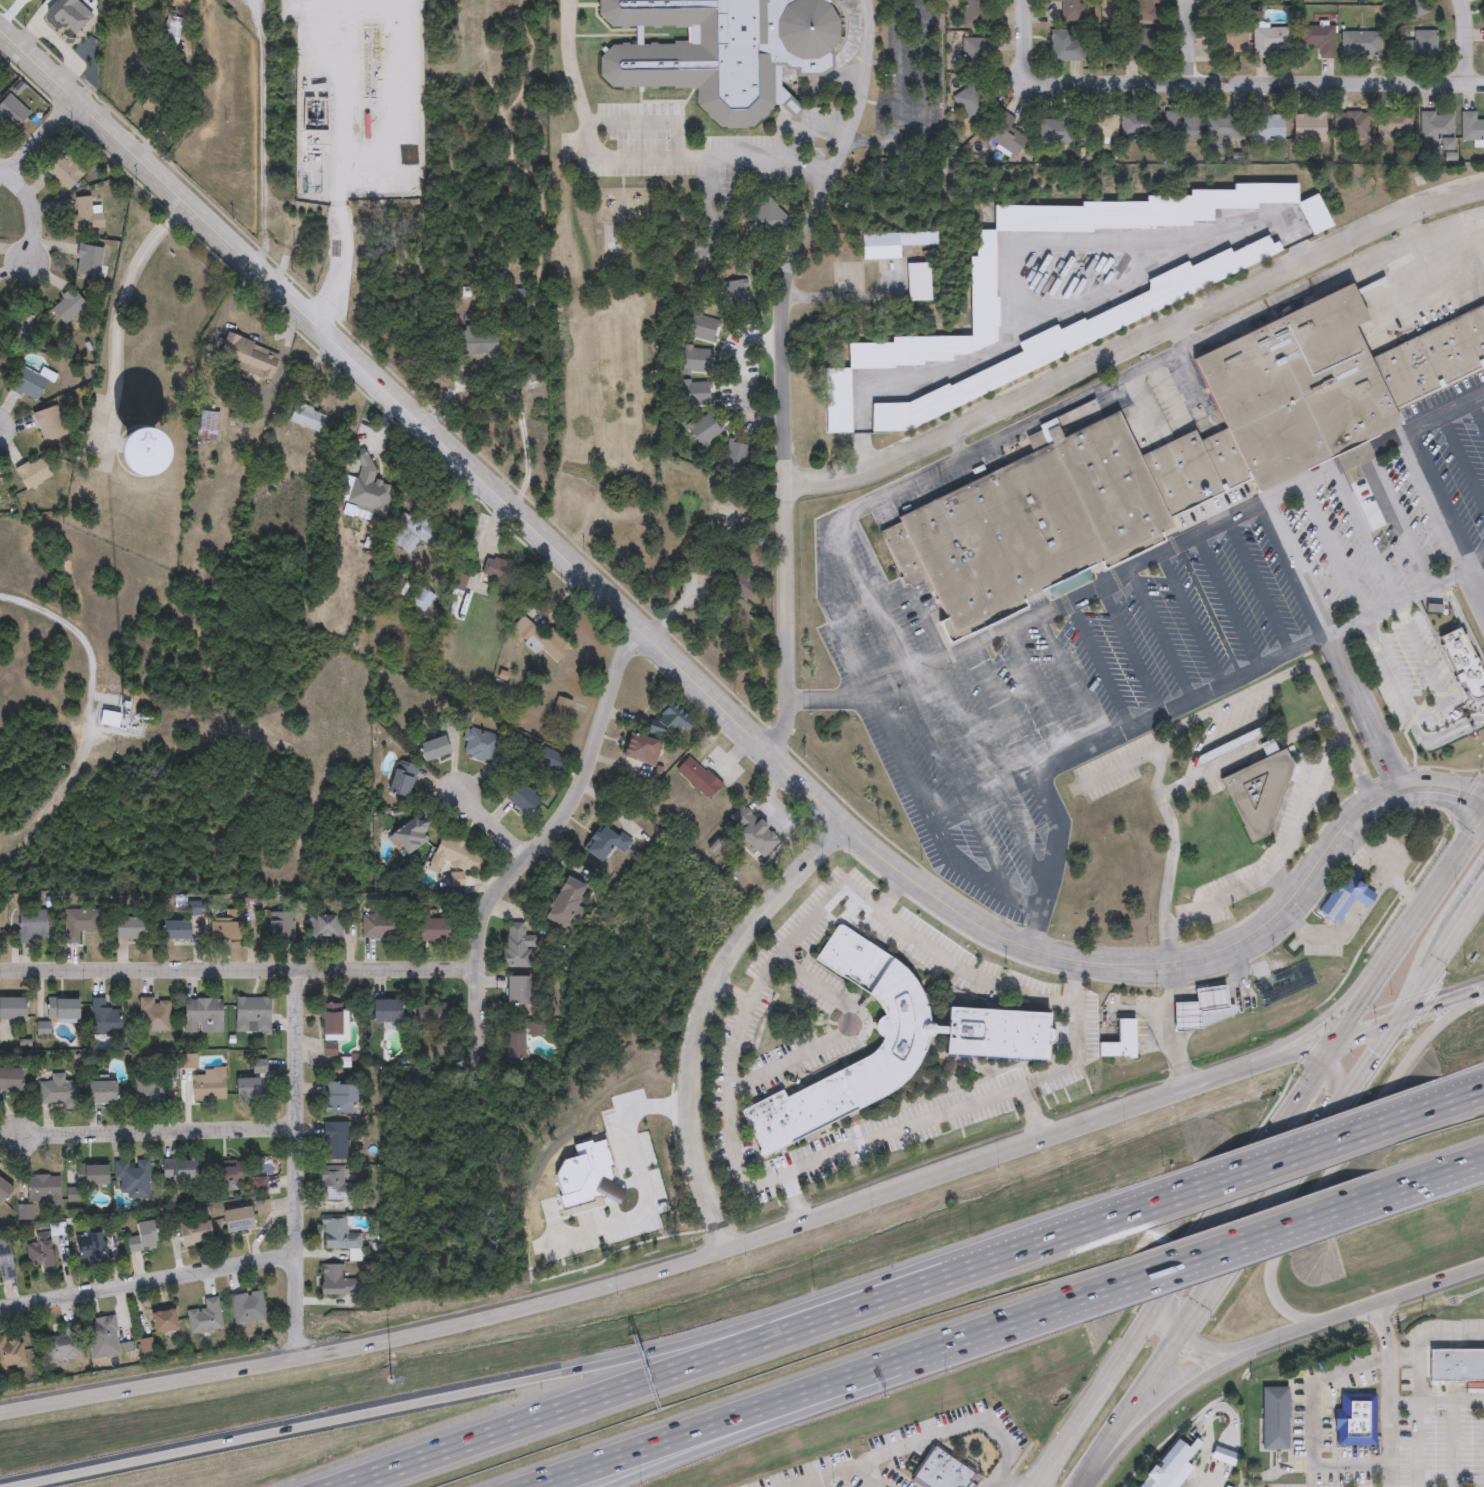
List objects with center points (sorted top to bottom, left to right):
building: (1228, 1)
building: (1406, 3)
building: (1069, 9)
building: (1144, 9)
building: (973, 13)
building: (166, 31)
road: (1025, 32)
building: (1319, 38)
building: (1227, 40)
building: (1272, 40)
road: (1466, 40)
building: (1362, 42)
building: (303, 43)
road: (1188, 44)
building: (1065, 45)
building: (1143, 45)
building: (1419, 45)
building: (722, 52)
building: (975, 54)
road: (1251, 86)
building: (970, 102)
building: (11, 111)
road: (649, 120)
building: (1139, 123)
building: (1395, 123)
building: (1351, 124)
building: (1101, 125)
building: (1181, 125)
building: (1308, 125)
building: (1471, 125)
building: (1266, 126)
building: (1437, 126)
building: (1223, 128)
building: (1059, 130)
road: (45, 133)
building: (1005, 133)
road: (869, 143)
road: (4, 160)
road: (633, 160)
building: (64, 170)
road: (29, 206)
building: (83, 215)
building: (767, 220)
building: (918, 240)
building: (880, 247)
road: (1014, 252)
building: (86, 260)
road: (339, 271)
road: (1427, 273)
building: (917, 284)
road: (1286, 296)
building: (985, 299)
building: (66, 307)
road: (117, 316)
building: (1096, 327)
building: (475, 344)
road: (1135, 346)
building: (245, 355)
building: (1432, 358)
building: (2, 363)
road: (782, 369)
road: (740, 379)
building: (31, 383)
building: (1297, 387)
road: (515, 402)
road: (1060, 407)
road: (1477, 413)
building: (306, 418)
building: (206, 423)
building: (48, 425)
building: (704, 431)
building: (121, 456)
building: (736, 457)
road: (1462, 459)
building: (1193, 469)
building: (33, 472)
building: (368, 489)
road: (1435, 500)
road: (1401, 517)
building: (1030, 525)
road: (1374, 529)
road: (1194, 532)
building: (413, 533)
road: (1342, 545)
road: (1475, 557)
road: (1296, 567)
building: (724, 568)
building: (496, 571)
building: (456, 582)
road: (1258, 585)
building: (742, 587)
road: (865, 589)
road: (1413, 594)
road: (1227, 600)
road: (1190, 617)
road: (1463, 624)
road: (66, 626)
road: (1160, 632)
parking lot: (1164, 638)
building: (543, 644)
road: (1129, 646)
road: (1099, 661)
building: (1463, 663)
road: (1427, 669)
road: (695, 682)
road: (1406, 710)
building: (119, 722)
road: (1141, 723)
building: (646, 741)
road: (1166, 743)
building: (481, 744)
building: (433, 748)
road: (1246, 756)
building: (1210, 757)
building: (551, 758)
road: (1355, 759)
road: (1121, 766)
building: (697, 776)
building: (402, 779)
building: (1256, 794)
building: (520, 798)
road: (1306, 801)
road: (772, 812)
road: (495, 828)
building: (752, 831)
building: (408, 835)
road: (1054, 840)
building: (604, 843)
road: (541, 845)
road: (1371, 853)
building: (454, 854)
road: (993, 886)
road: (1232, 890)
road: (1407, 892)
building: (1343, 896)
building: (562, 903)
road: (1471, 915)
building: (77, 923)
building: (377, 926)
building: (31, 927)
building: (278, 927)
road: (807, 927)
road: (1410, 927)
building: (324, 928)
building: (131, 929)
building: (225, 930)
building: (173, 931)
building: (431, 931)
road: (1346, 936)
building: (516, 946)
road: (234, 968)
road: (987, 979)
building: (516, 991)
building: (10, 1009)
building: (60, 1009)
gas station: (1200, 1009)
road: (1409, 1010)
building: (384, 1011)
building: (1204, 1011)
traffic signals: (1408, 1011)
building: (250, 1014)
building: (429, 1014)
building: (153, 1015)
road: (1326, 1015)
building: (202, 1016)
road: (704, 1017)
building: (103, 1019)
road: (1401, 1020)
building: (331, 1022)
road: (1173, 1025)
traffic signals: (1335, 1036)
road: (839, 1038)
building: (1119, 1041)
building: (887, 1044)
building: (513, 1045)
road: (1275, 1057)
road: (1322, 1065)
building: (258, 1067)
building: (9, 1079)
road: (1201, 1083)
building: (207, 1086)
building: (146, 1087)
building: (247, 1089)
building: (57, 1091)
building: (99, 1092)
road: (1453, 1093)
building: (337, 1098)
road: (1447, 1098)
road: (1029, 1111)
road: (161, 1134)
building: (334, 1141)
road: (852, 1145)
road: (1345, 1149)
road: (1297, 1151)
road: (299, 1165)
building: (176, 1171)
road: (1446, 1172)
building: (224, 1175)
building: (582, 1175)
road: (1446, 1177)
building: (131, 1178)
building: (85, 1180)
road: (642, 1182)
building: (333, 1184)
building: (257, 1186)
building: (42, 1188)
building: (3, 1190)
road: (1386, 1194)
road: (792, 1196)
building: (260, 1207)
road: (1126, 1210)
road: (1266, 1218)
building: (235, 1220)
building: (193, 1234)
building: (140, 1236)
building: (338, 1237)
road: (1243, 1243)
building: (87, 1250)
road: (1008, 1253)
building: (37, 1255)
building: (5, 1260)
road: (1182, 1261)
road: (150, 1279)
building: (334, 1282)
road: (602, 1286)
road: (1372, 1305)
building: (246, 1306)
traffic signals: (1150, 1309)
building: (204, 1316)
building: (161, 1320)
road: (1169, 1321)
traffic signals: (1188, 1333)
road: (1431, 1334)
building: (101, 1336)
building: (63, 1343)
road: (1223, 1346)
building: (10, 1352)
building: (1456, 1365)
road: (545, 1376)
road: (641, 1381)
road: (1312, 1383)
road: (825, 1384)
road: (1388, 1394)
road: (1173, 1398)
road: (1141, 1401)
road: (819, 1406)
building: (1273, 1418)
building: (1354, 1419)
road: (920, 1437)
building: (1224, 1456)
road: (1351, 1466)
building: (1168, 1467)
building: (941, 1471)
road: (866, 1476)
road: (1088, 1478)
road: (992, 1483)
road: (998, 1483)

